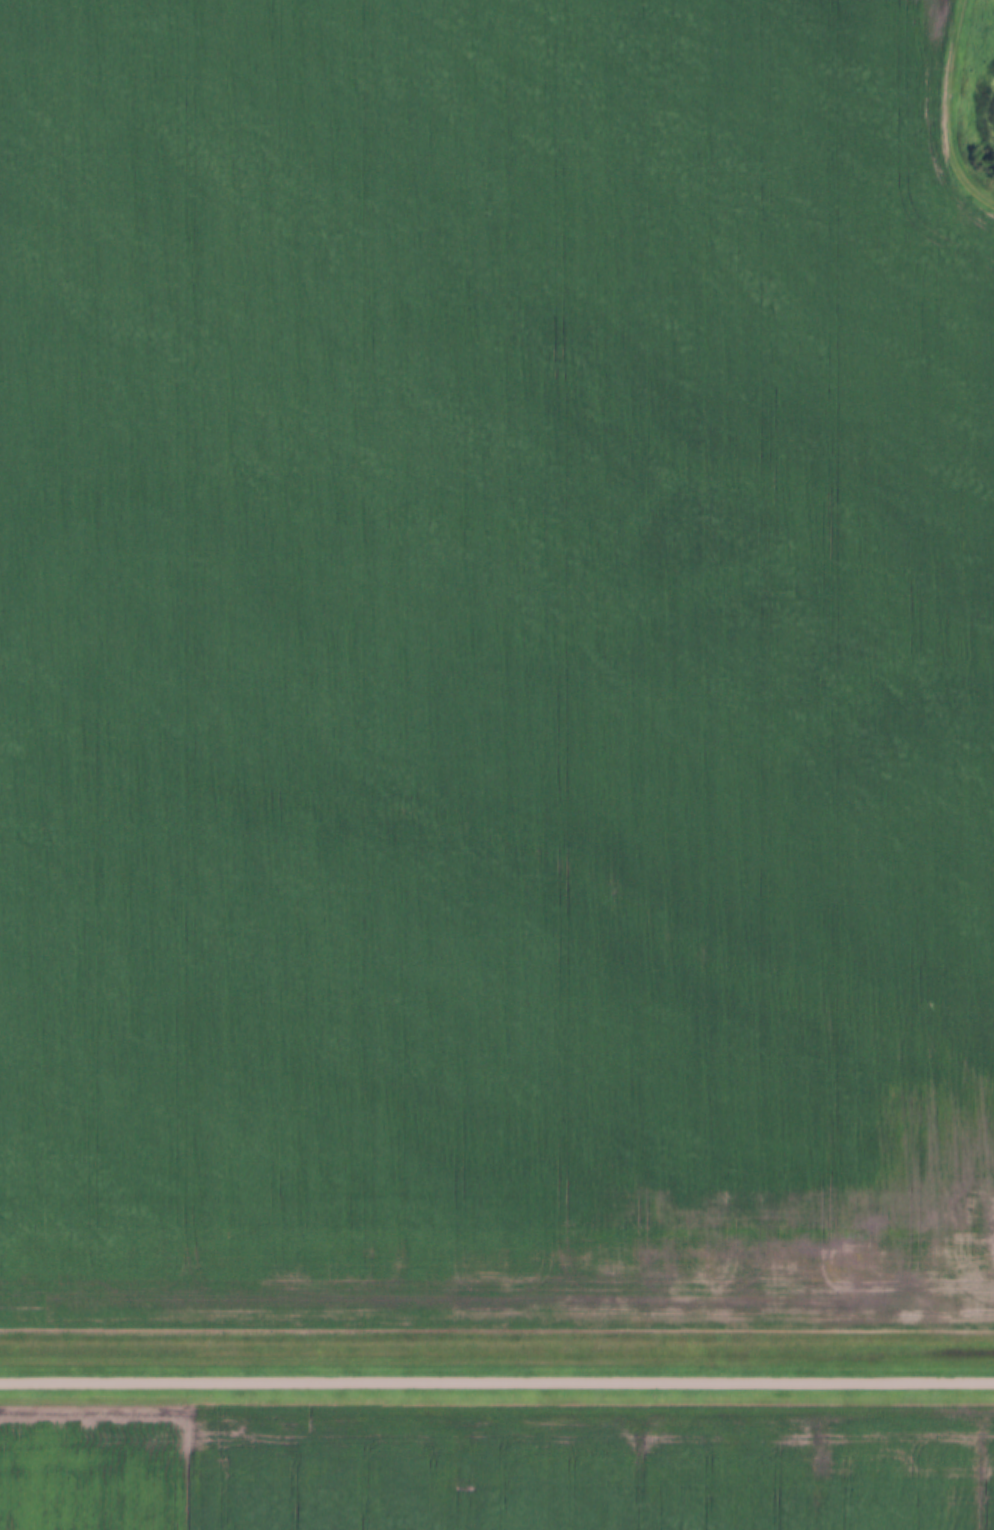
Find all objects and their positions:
road: (949, 108)
road: (496, 1383)

